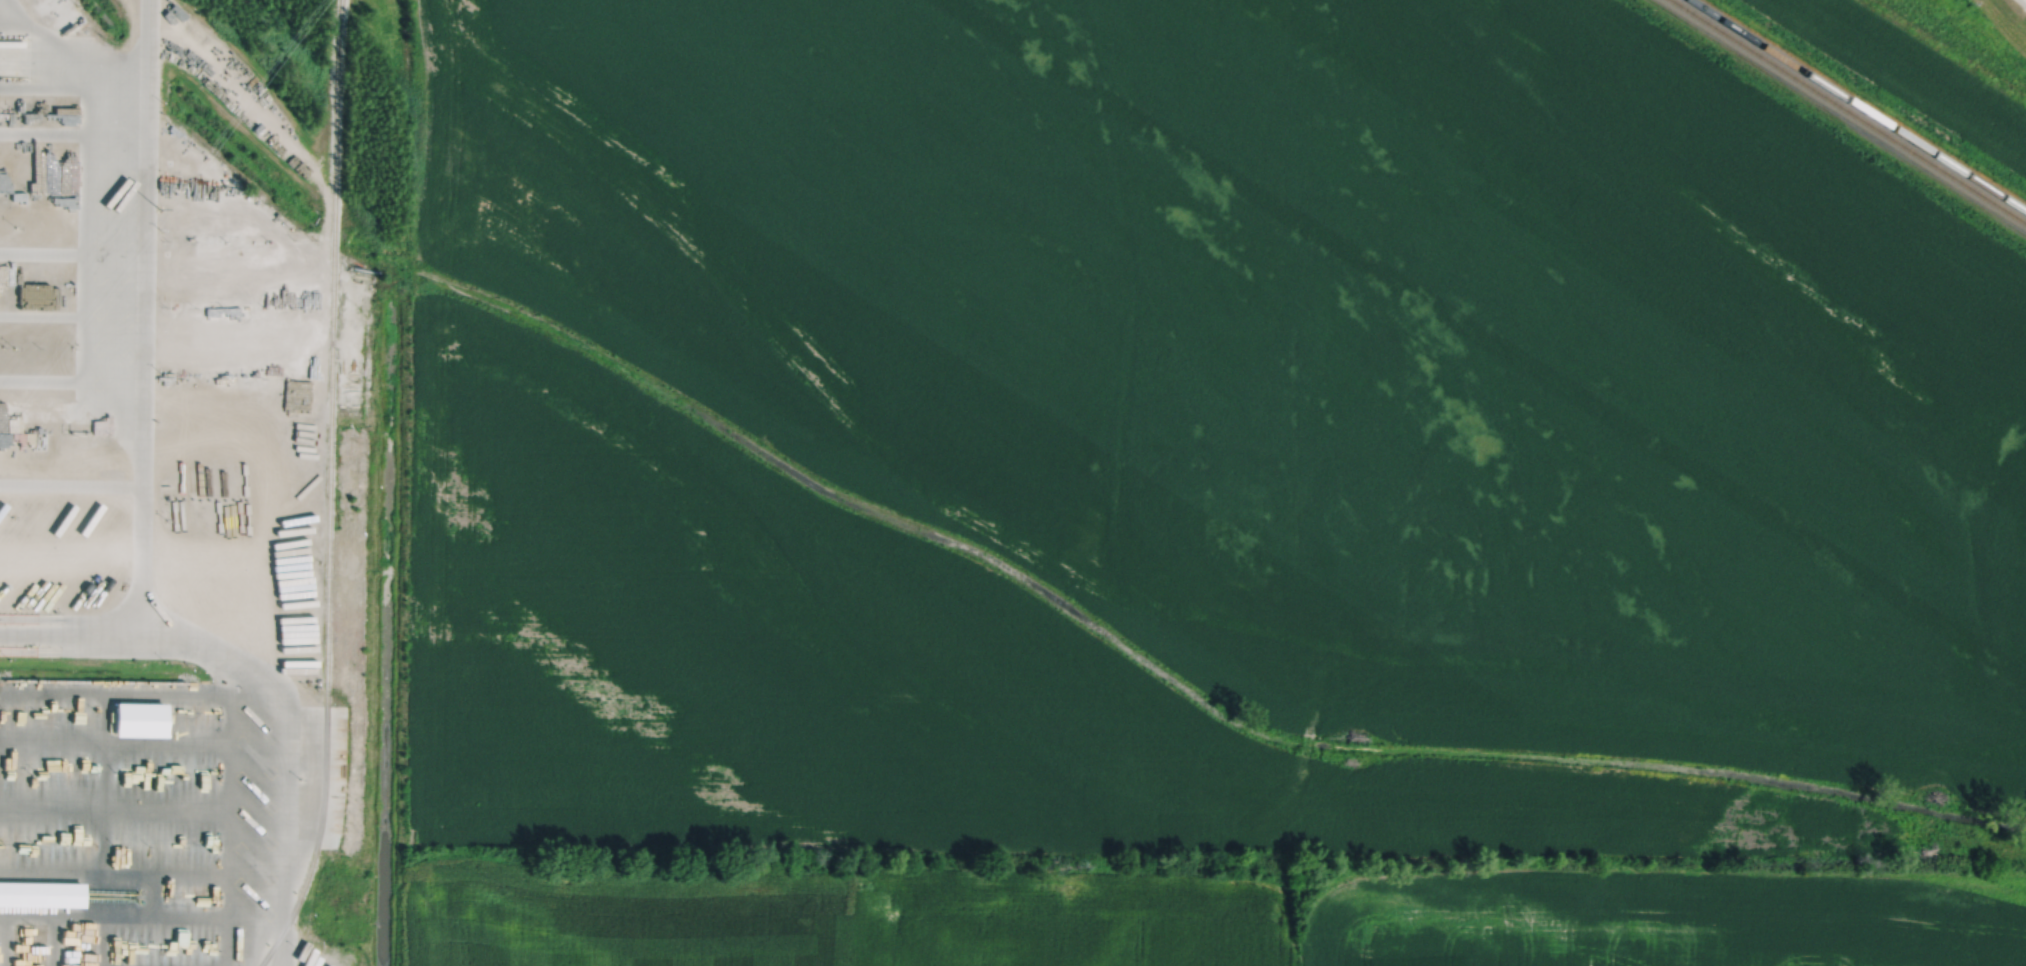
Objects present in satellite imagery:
railway: (336, 19)
railway: (1856, 106)
railway: (1847, 112)
road: (143, 314)
building: (19, 324)
railway: (329, 489)
road: (276, 681)
road: (192, 690)
building: (140, 719)
road: (106, 728)
road: (105, 776)
road: (105, 833)
road: (230, 846)
building: (41, 895)
road: (77, 915)
road: (192, 916)
road: (6, 940)
road: (55, 940)
road: (98, 940)

